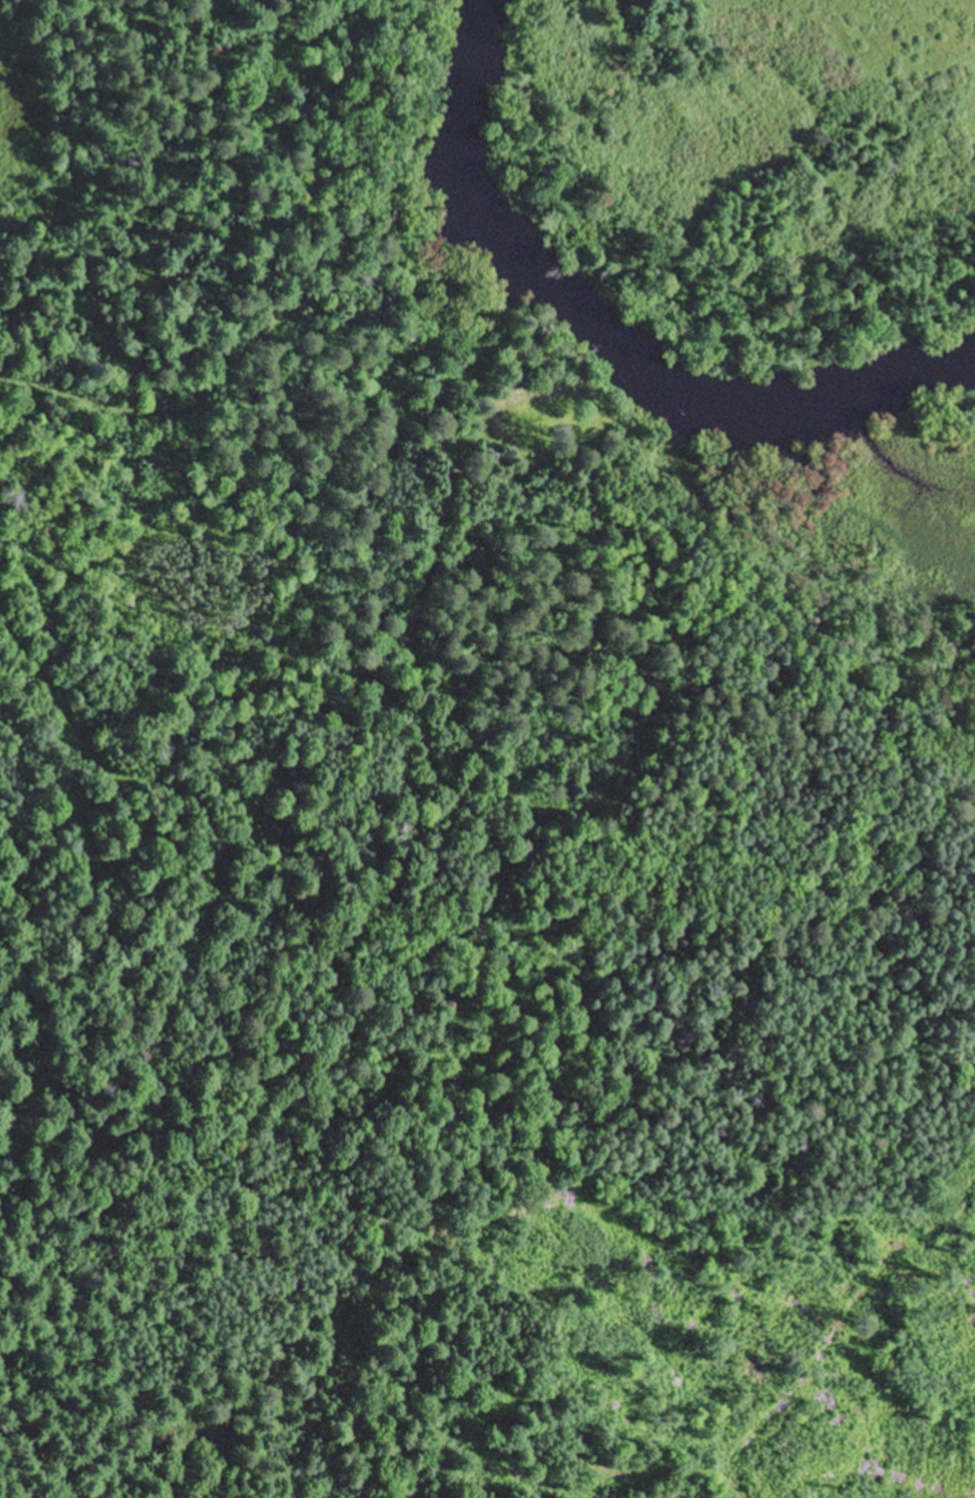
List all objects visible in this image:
river: (596, 336)

